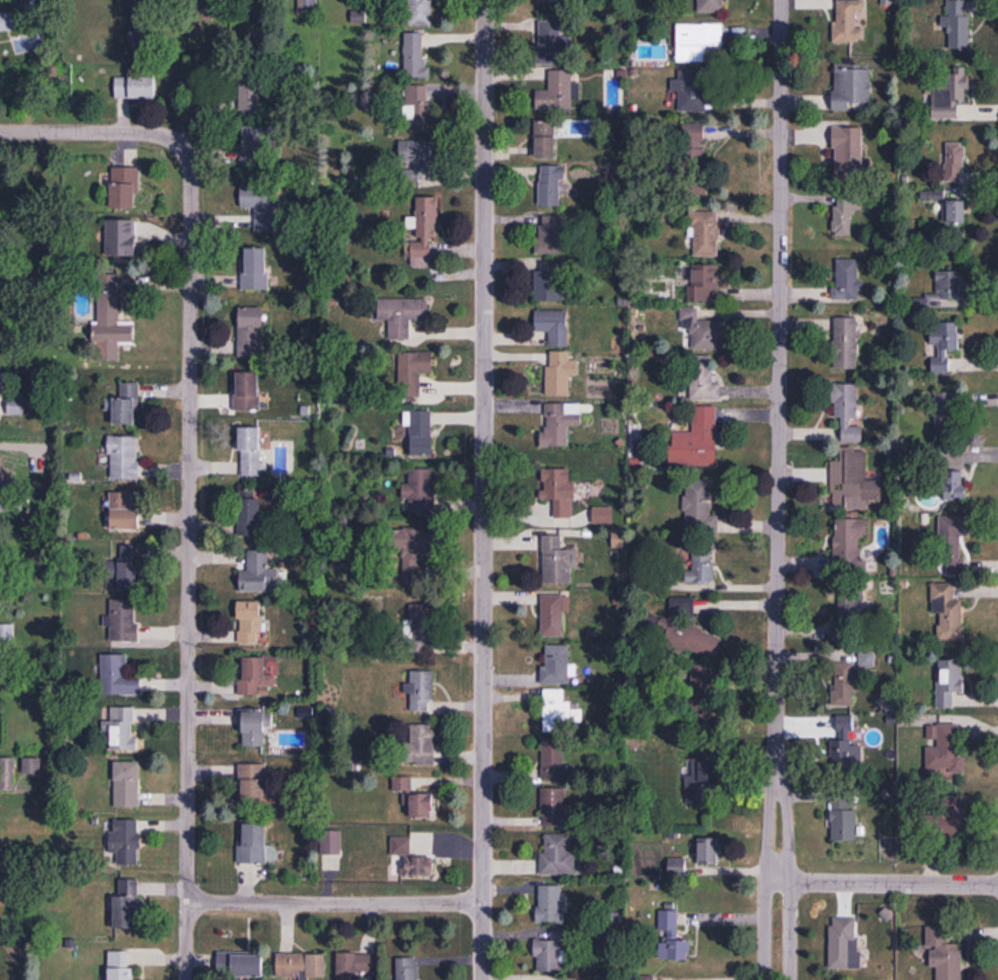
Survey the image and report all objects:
building: (557, 1)
building: (308, 7)
building: (710, 7)
building: (419, 12)
building: (851, 20)
building: (698, 43)
building: (551, 44)
building: (416, 57)
building: (852, 86)
building: (135, 90)
building: (692, 93)
building: (558, 94)
building: (950, 94)
building: (251, 98)
building: (418, 110)
road: (91, 132)
building: (546, 142)
building: (692, 149)
building: (254, 150)
building: (849, 152)
building: (417, 162)
building: (955, 162)
building: (551, 189)
building: (125, 190)
building: (263, 208)
building: (957, 210)
building: (843, 215)
building: (424, 233)
building: (707, 236)
building: (551, 237)
building: (121, 239)
building: (256, 270)
building: (847, 279)
building: (706, 286)
building: (552, 288)
building: (945, 292)
building: (402, 316)
building: (111, 321)
building: (554, 328)
building: (702, 332)
building: (251, 333)
building: (845, 342)
building: (943, 345)
building: (414, 373)
building: (560, 374)
building: (704, 381)
building: (248, 392)
building: (17, 407)
building: (127, 407)
building: (849, 412)
building: (946, 414)
building: (564, 417)
building: (422, 434)
building: (697, 441)
building: (251, 453)
building: (125, 459)
building: (852, 481)
building: (955, 484)
road: (484, 490)
road: (780, 490)
building: (561, 491)
building: (420, 492)
building: (6, 501)
building: (700, 509)
building: (124, 512)
building: (603, 517)
building: (249, 518)
building: (850, 546)
building: (414, 552)
building: (954, 552)
road: (188, 560)
building: (559, 562)
building: (129, 567)
building: (703, 567)
building: (260, 575)
building: (641, 580)
building: (855, 609)
building: (950, 611)
building: (553, 617)
building: (124, 622)
building: (250, 623)
building: (421, 629)
building: (6, 631)
building: (684, 632)
building: (866, 660)
building: (556, 667)
building: (119, 677)
building: (256, 678)
building: (703, 679)
building: (951, 681)
building: (842, 685)
building: (422, 691)
building: (560, 713)
building: (256, 728)
building: (123, 729)
building: (422, 745)
building: (847, 748)
building: (945, 748)
building: (553, 760)
building: (7, 775)
building: (703, 781)
building: (253, 784)
building: (127, 785)
building: (415, 798)
building: (555, 808)
building: (950, 814)
building: (844, 821)
building: (126, 842)
building: (331, 843)
building: (254, 844)
building: (710, 853)
building: (558, 856)
building: (412, 859)
road: (888, 882)
road: (335, 903)
building: (551, 905)
building: (127, 906)
building: (673, 939)
building: (844, 944)
building: (551, 953)
building: (946, 958)
building: (121, 966)
building: (242, 966)
building: (302, 966)
building: (357, 966)
building: (407, 969)

